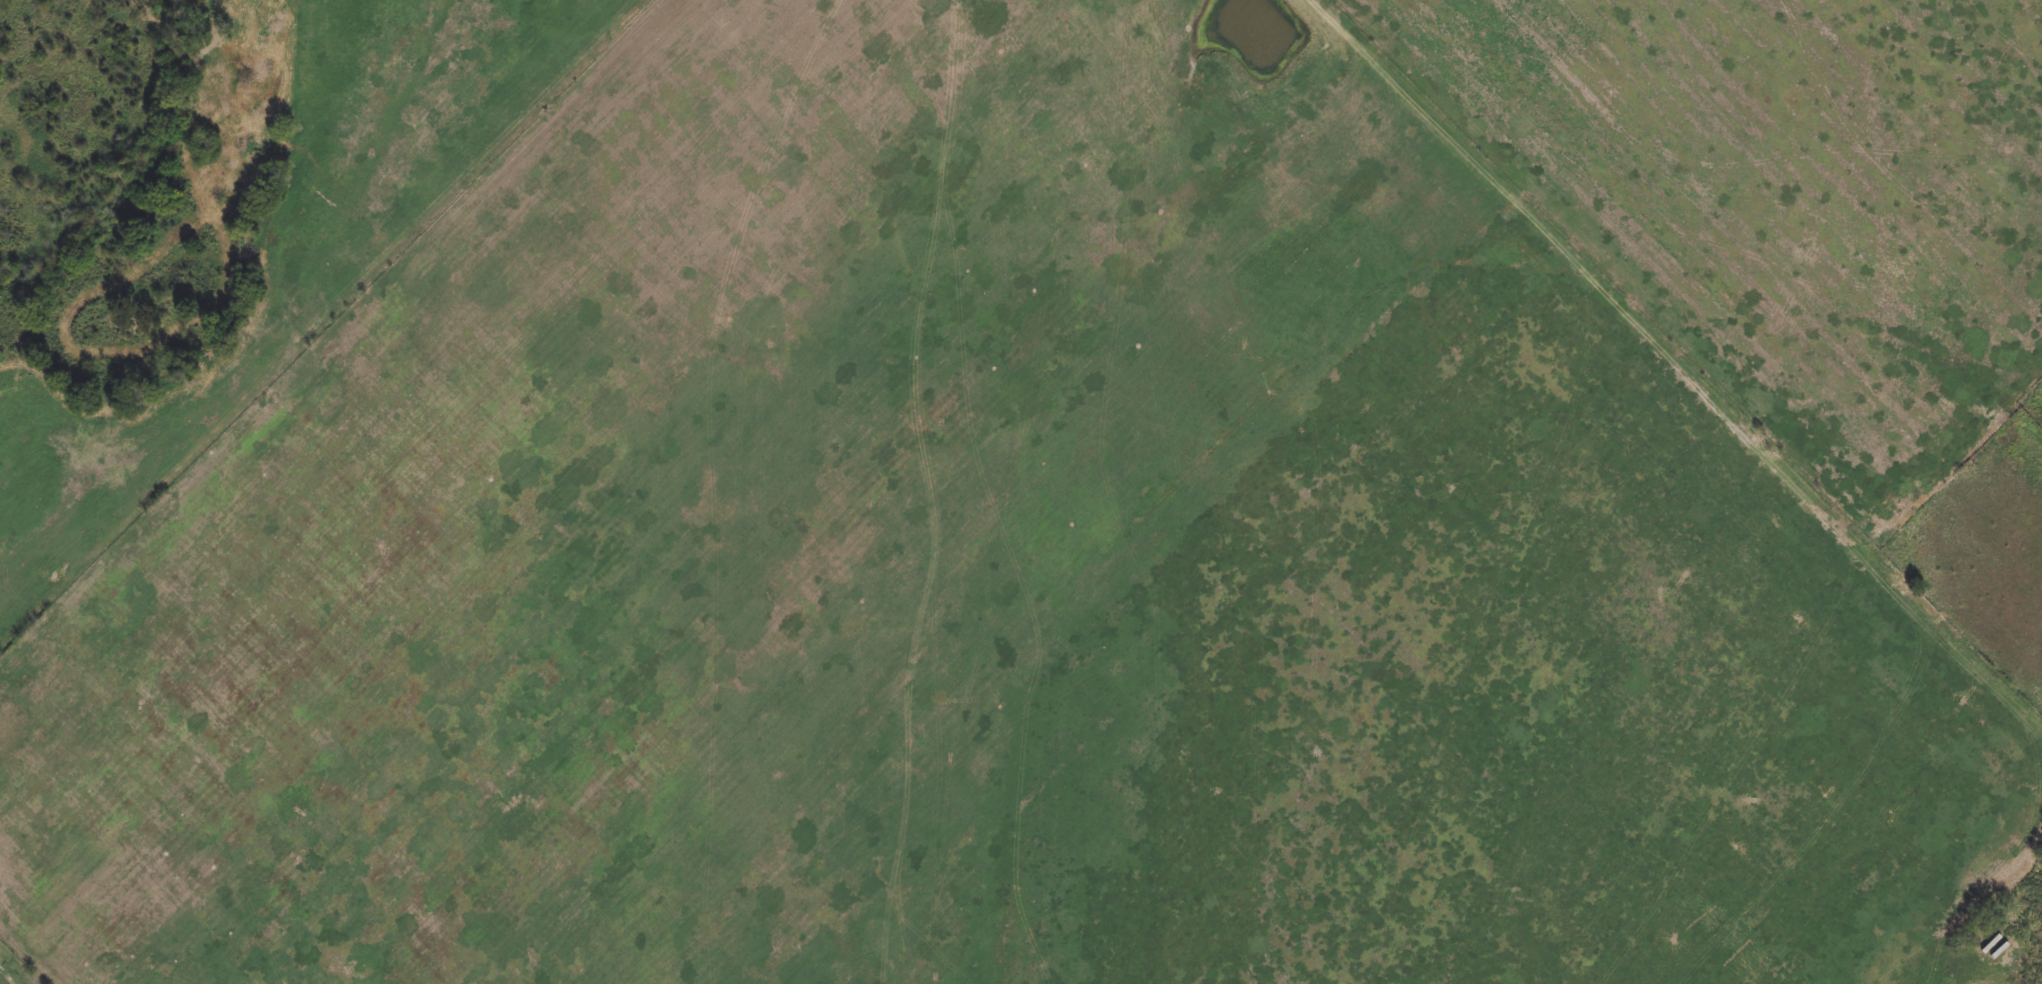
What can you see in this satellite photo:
building: (1993, 944)

